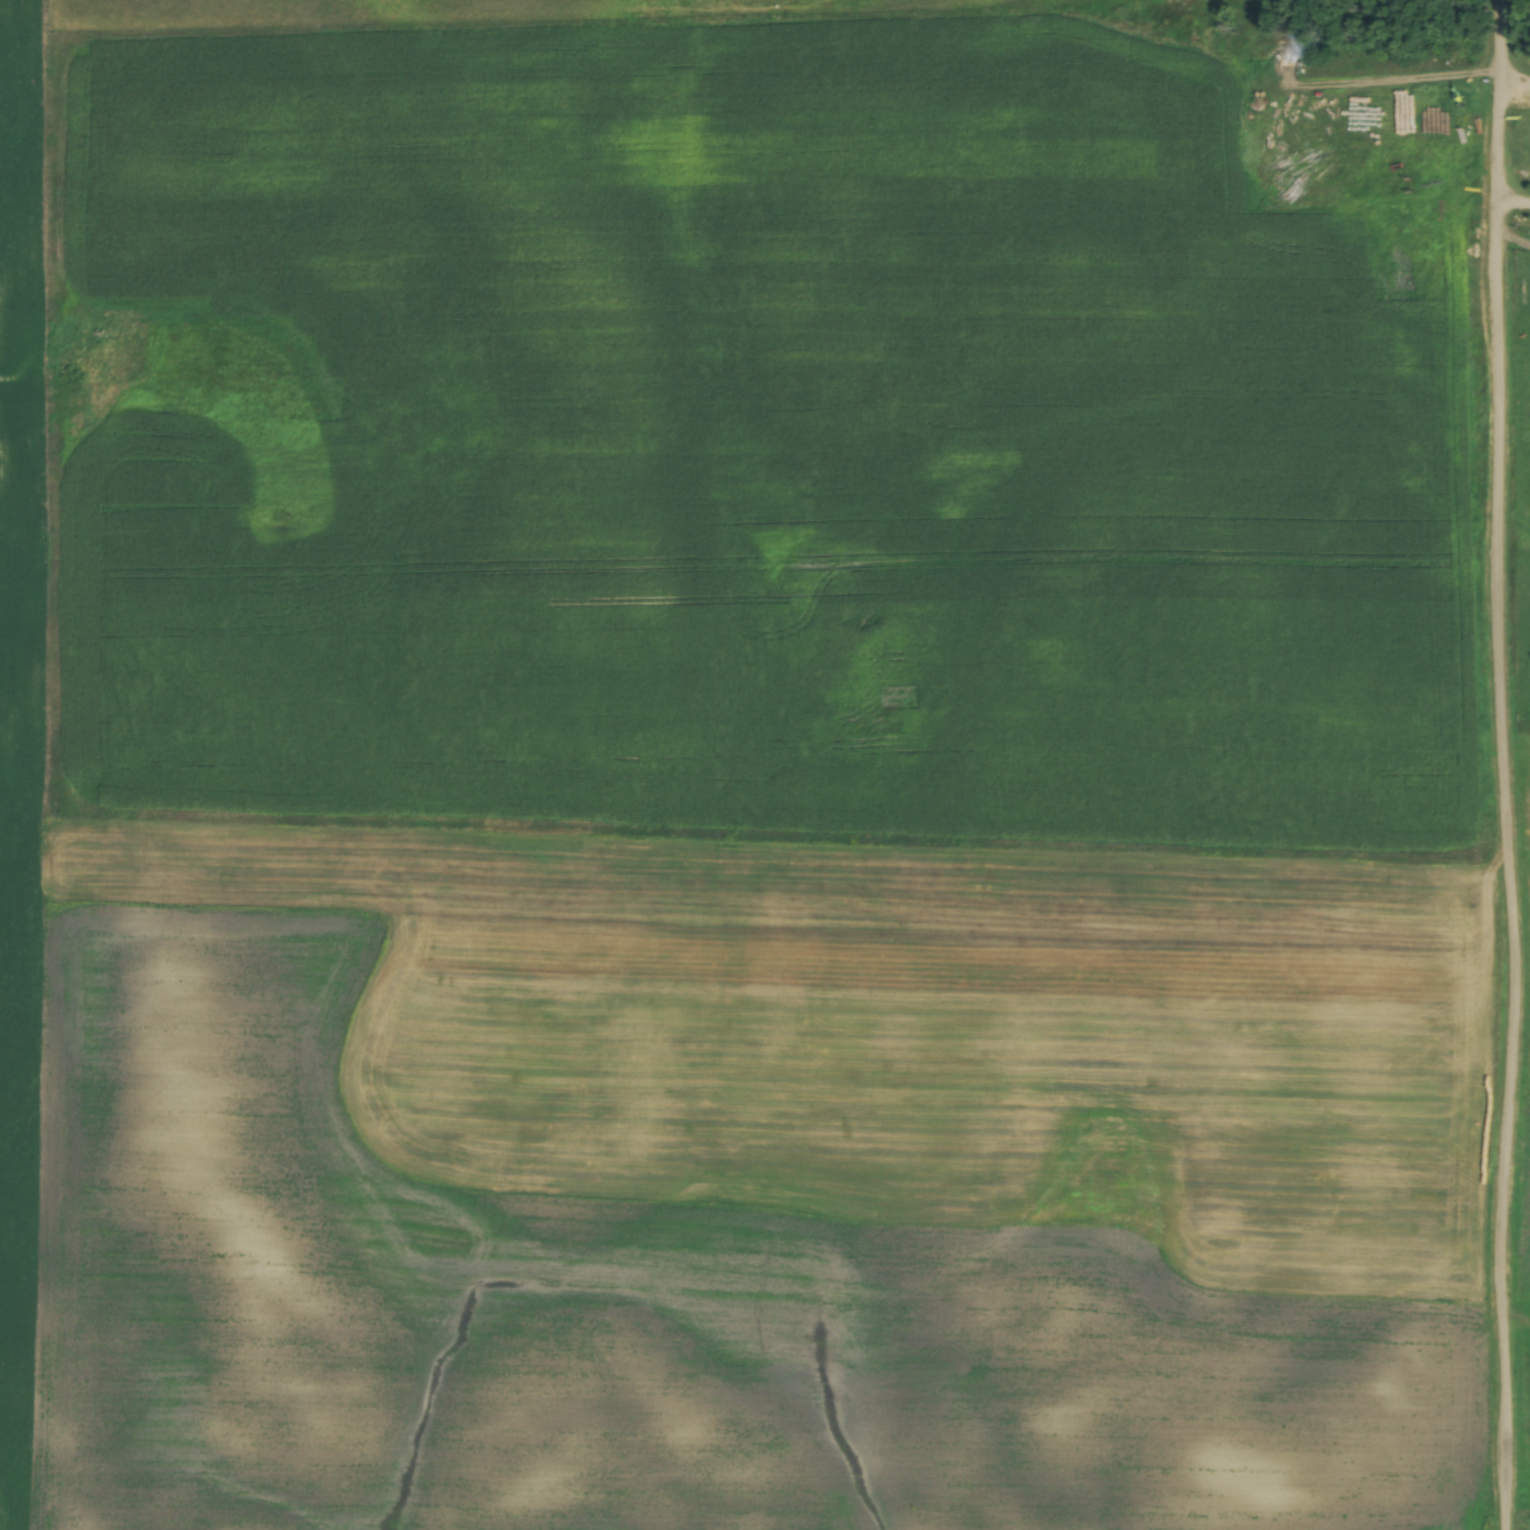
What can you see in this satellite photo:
river: (277, 488)
river: (990, 504)
river: (892, 649)
road: (1500, 765)
road: (1516, 1307)

